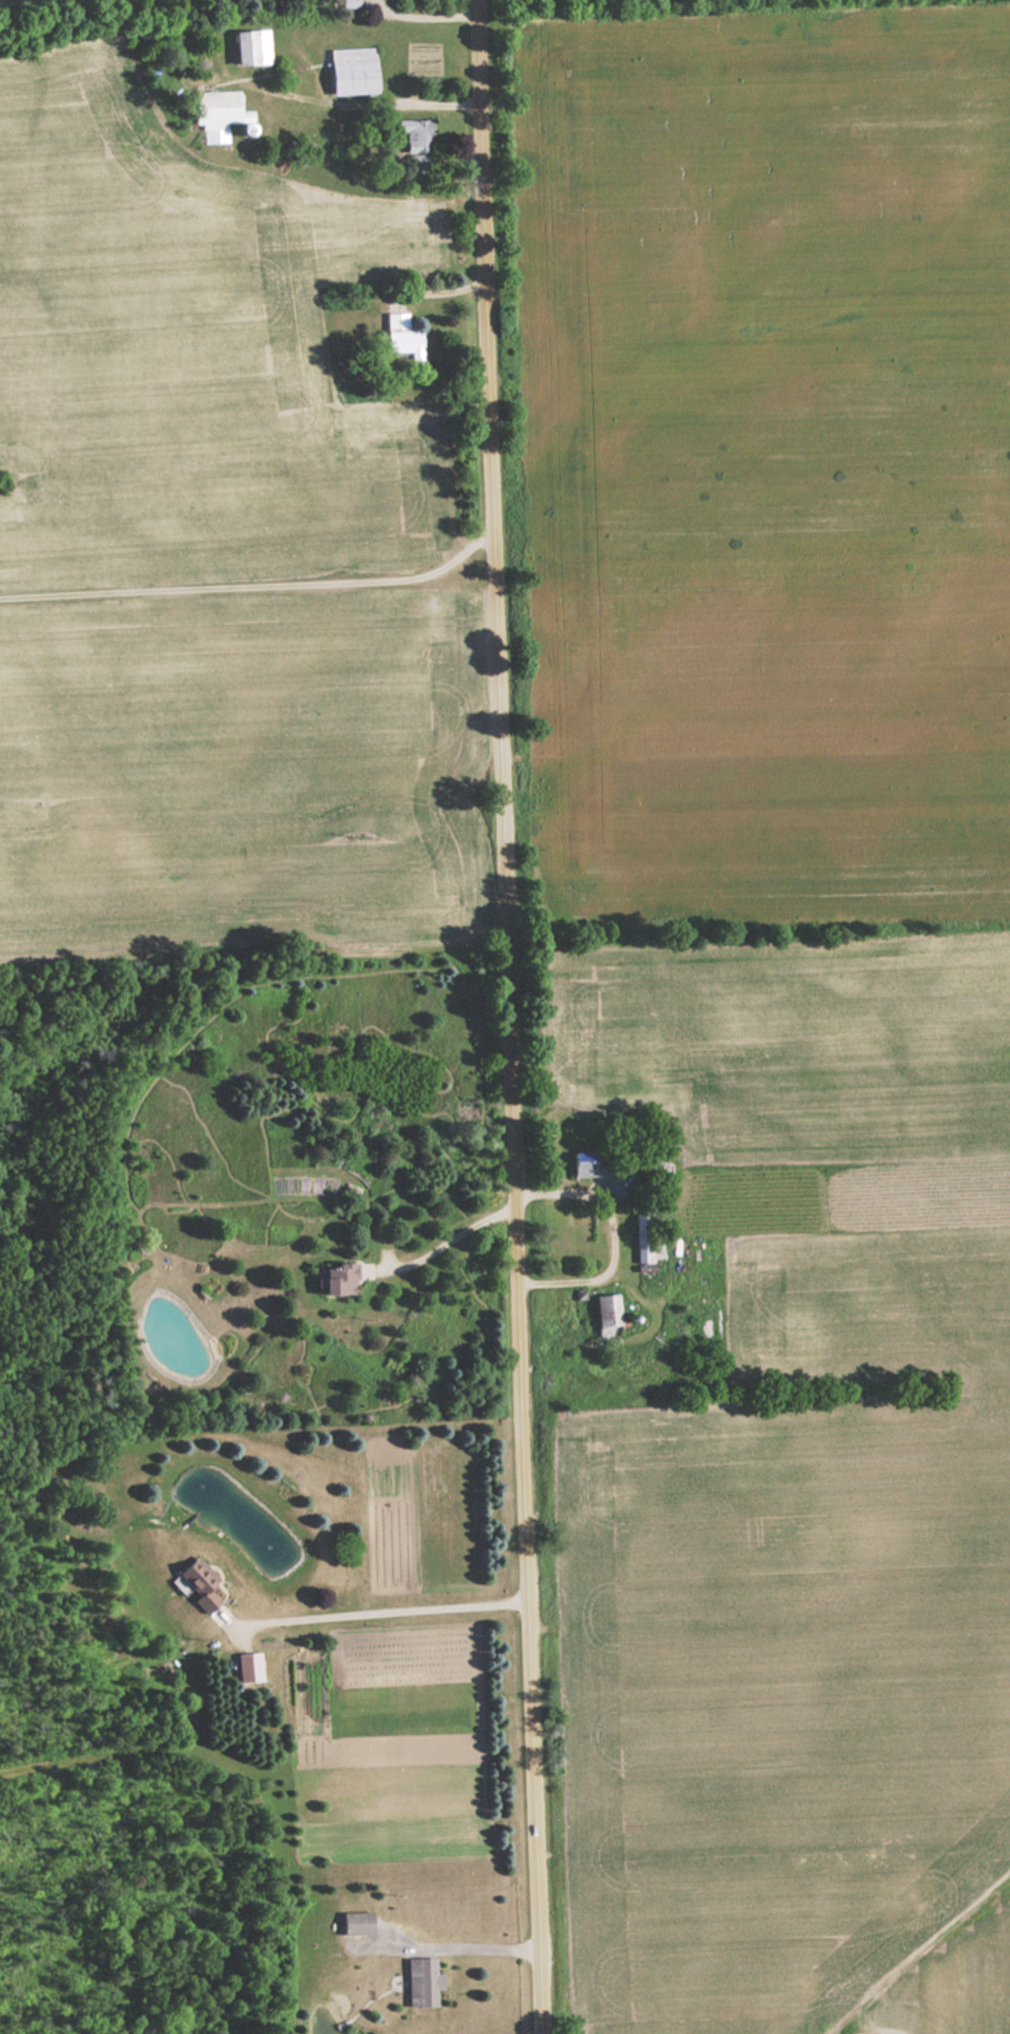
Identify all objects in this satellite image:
building: (350, 4)
building: (252, 47)
building: (353, 71)
building: (216, 108)
building: (416, 137)
building: (401, 335)
road: (509, 1017)
building: (599, 1175)
building: (642, 1238)
road: (457, 1239)
building: (339, 1279)
building: (606, 1312)
building: (679, 1323)
building: (198, 1583)
road: (387, 1612)
building: (358, 1922)
building: (423, 1981)

